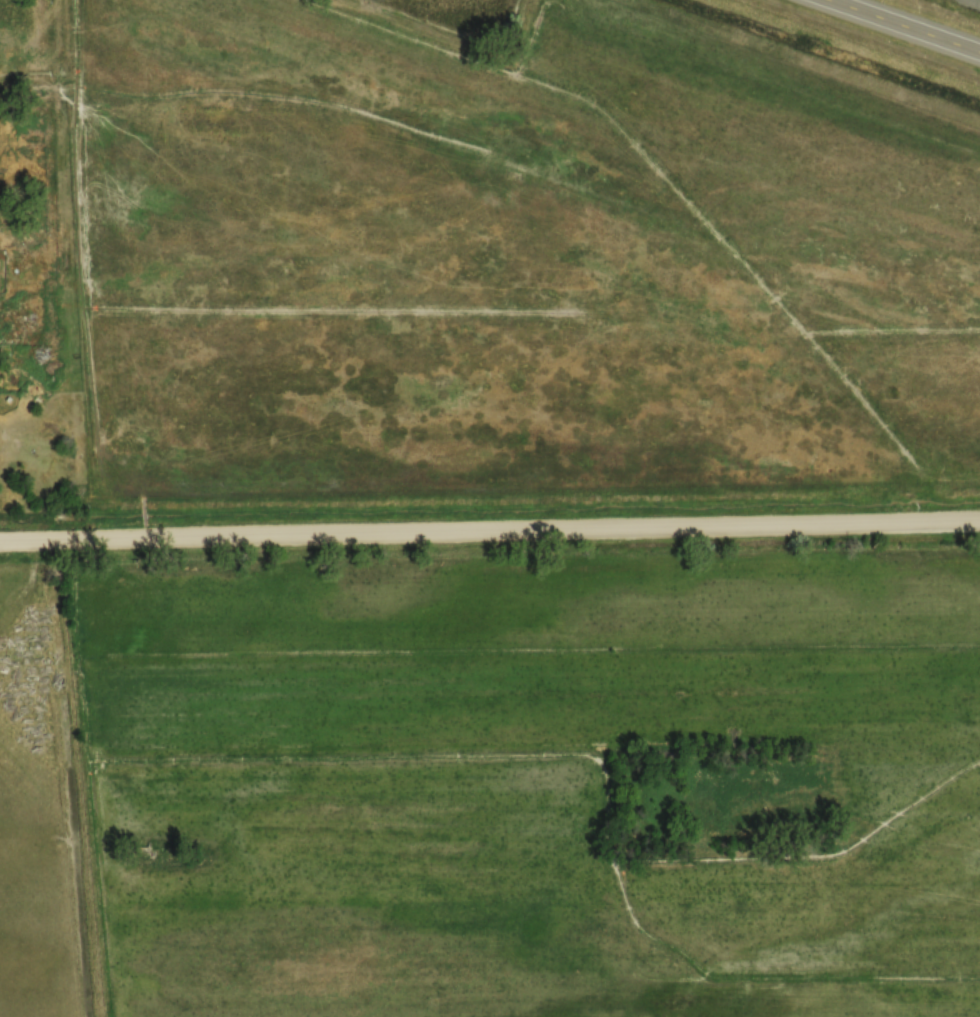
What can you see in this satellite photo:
road: (906, 25)
road: (490, 528)

